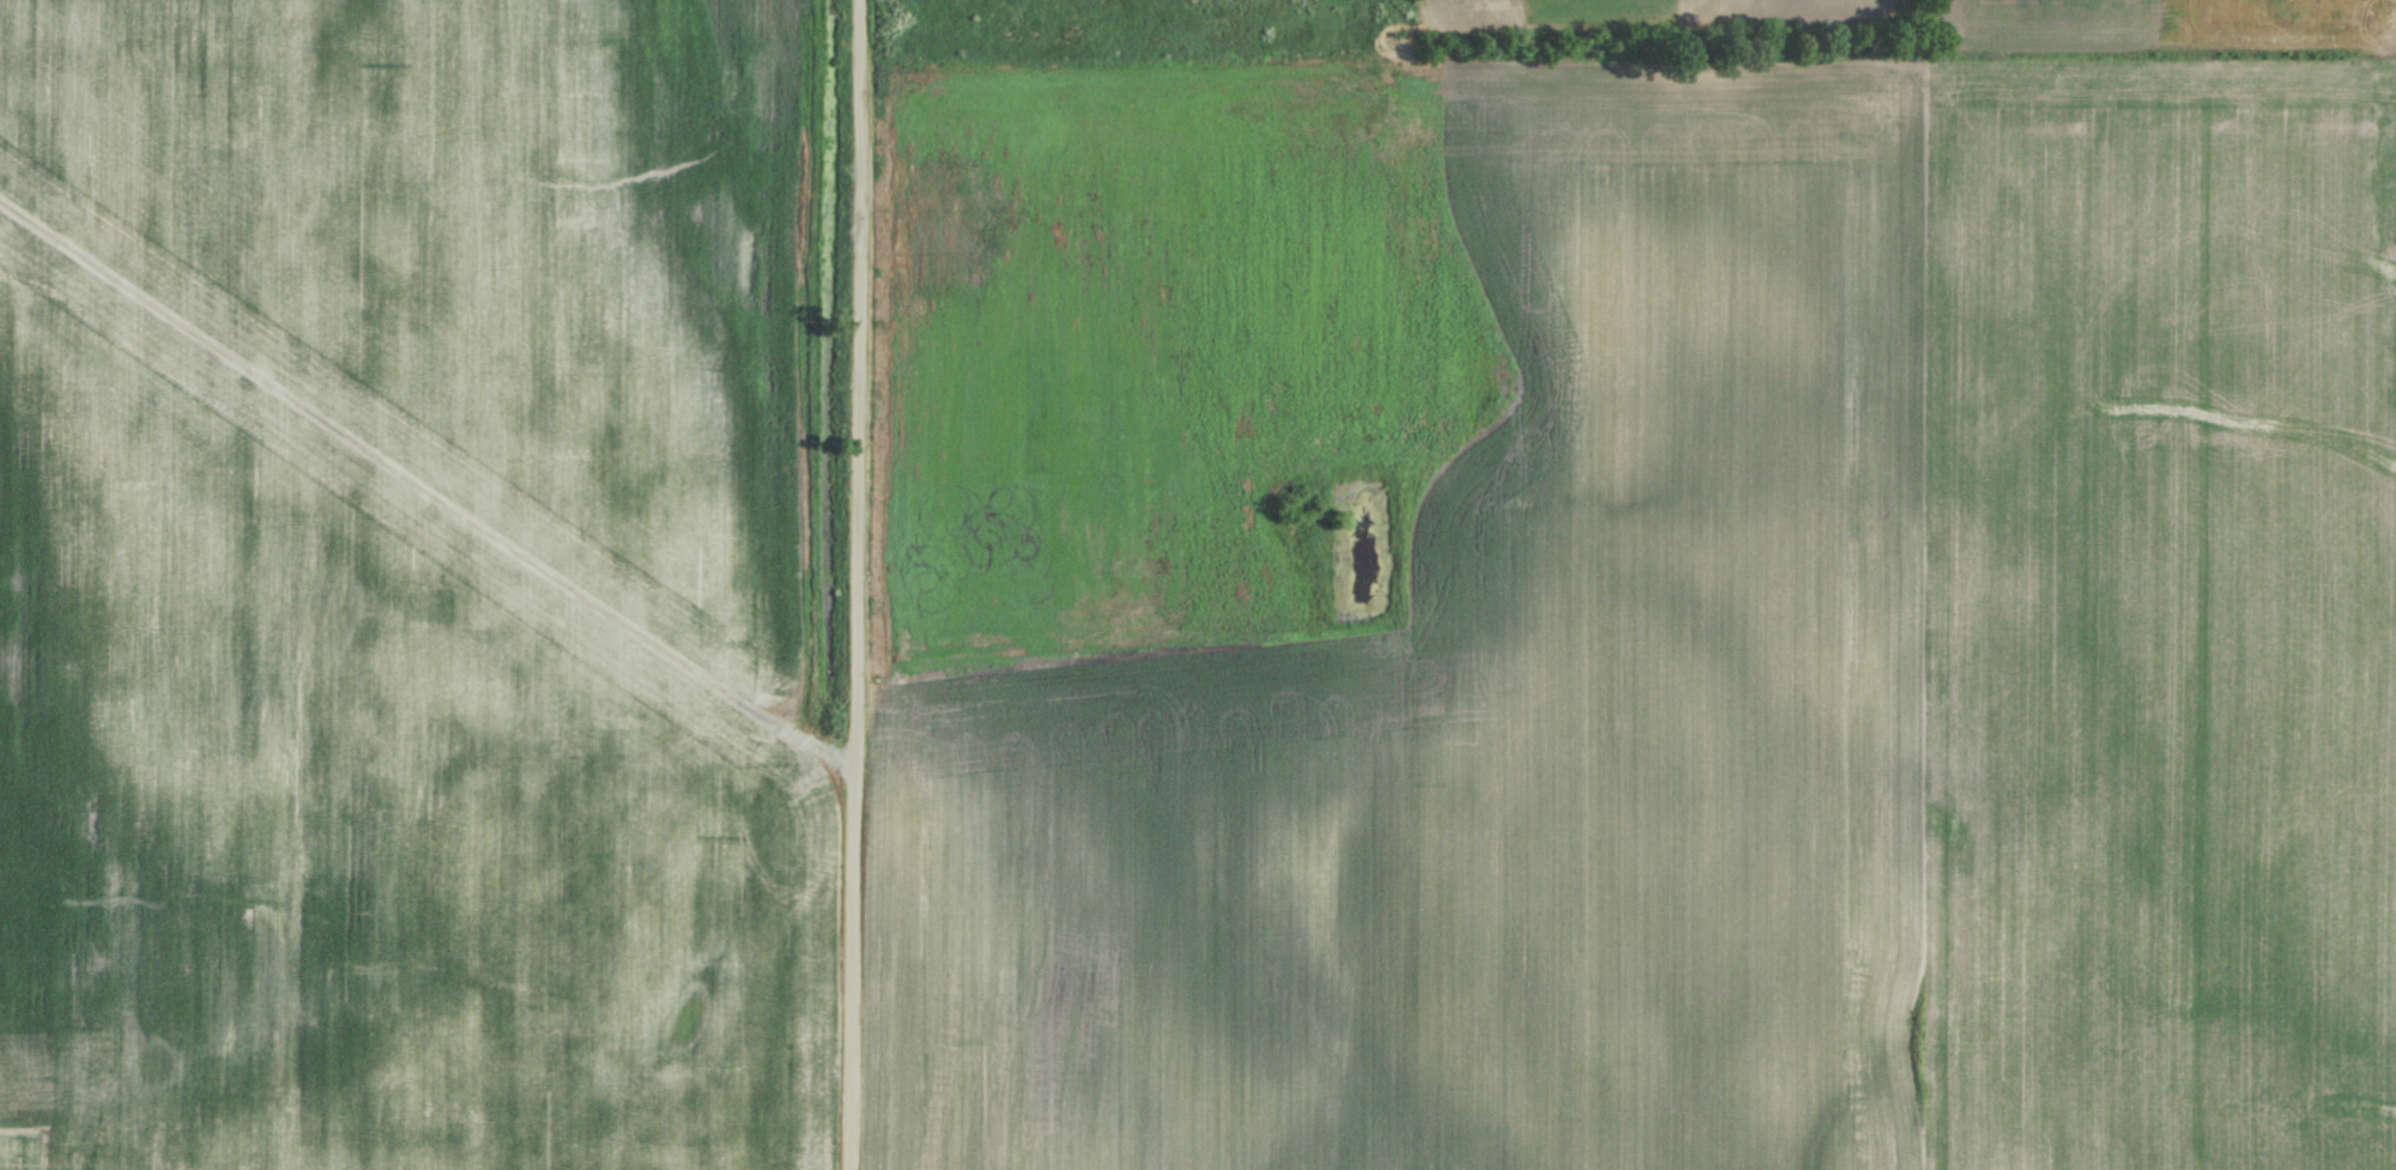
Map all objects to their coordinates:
road: (864, 584)

